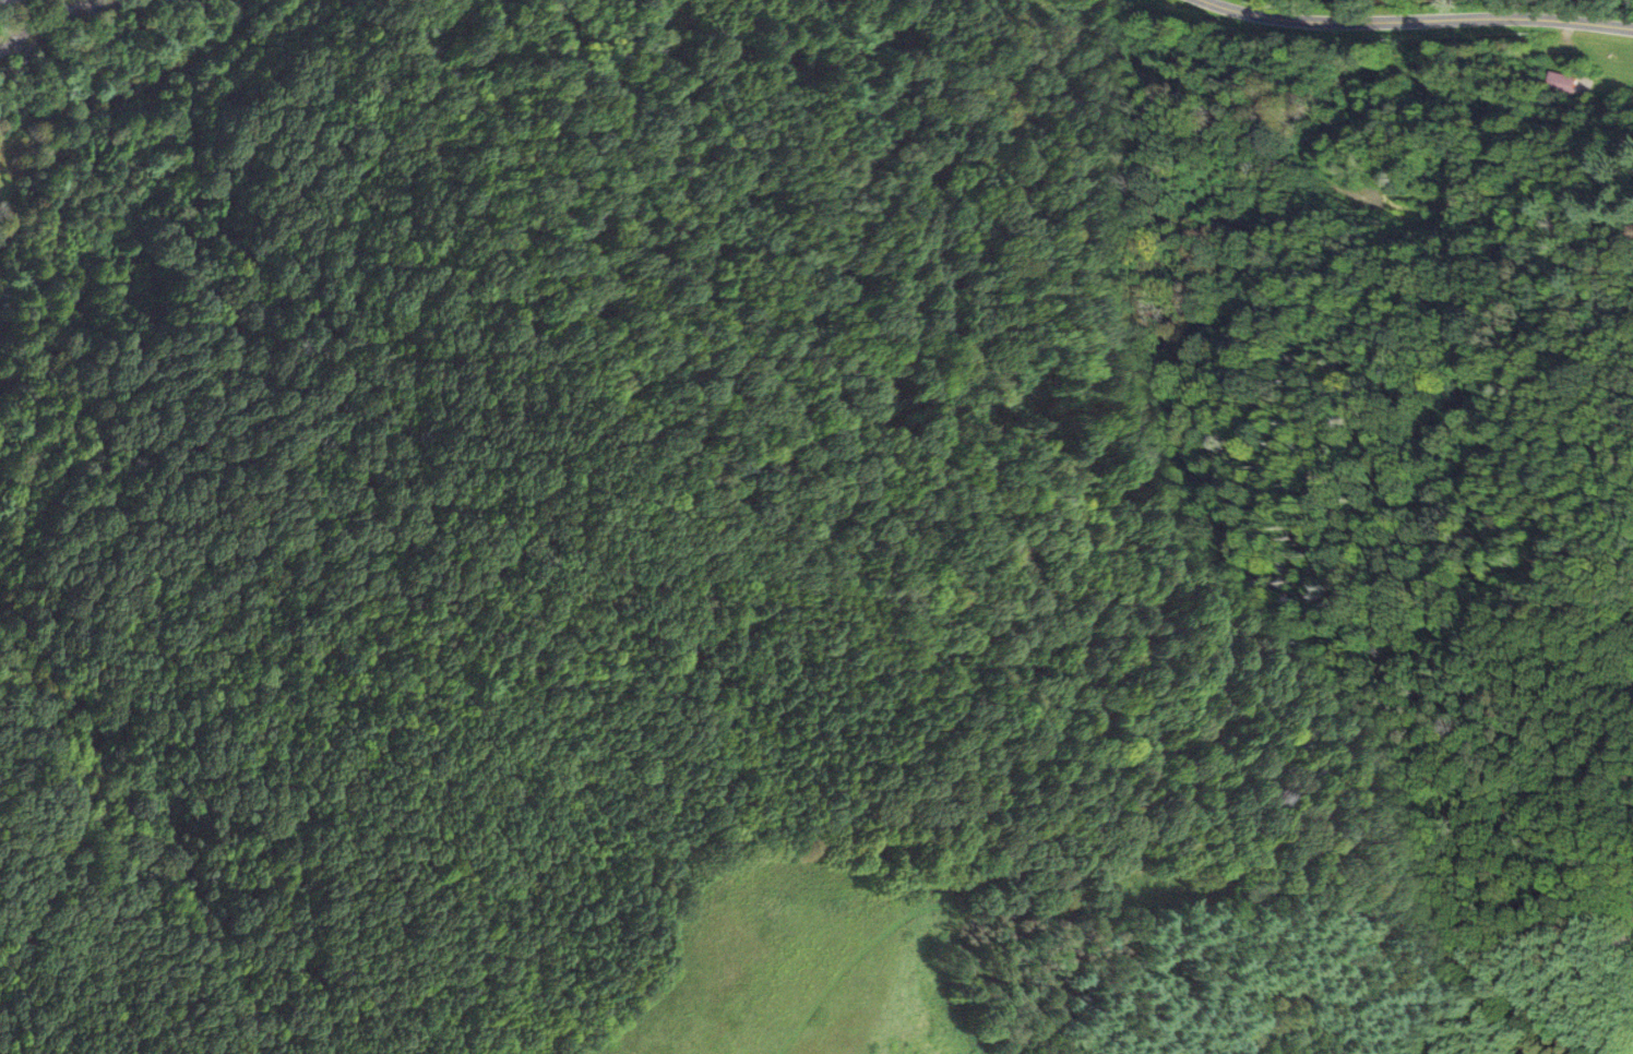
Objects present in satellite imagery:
road: (1419, 17)

